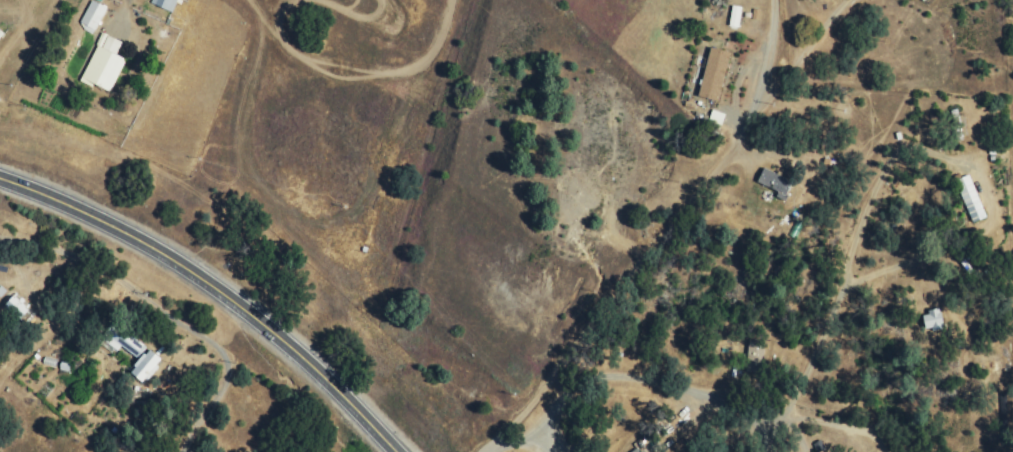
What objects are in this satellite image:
building: (165, 3)
building: (734, 14)
building: (92, 15)
road: (807, 38)
building: (105, 62)
building: (711, 72)
building: (714, 115)
building: (957, 123)
building: (772, 181)
building: (968, 197)
road: (658, 246)
road: (884, 269)
road: (214, 292)
building: (17, 299)
building: (929, 318)
road: (824, 320)
building: (126, 340)
building: (755, 350)
building: (151, 363)
road: (566, 409)
building: (633, 449)

